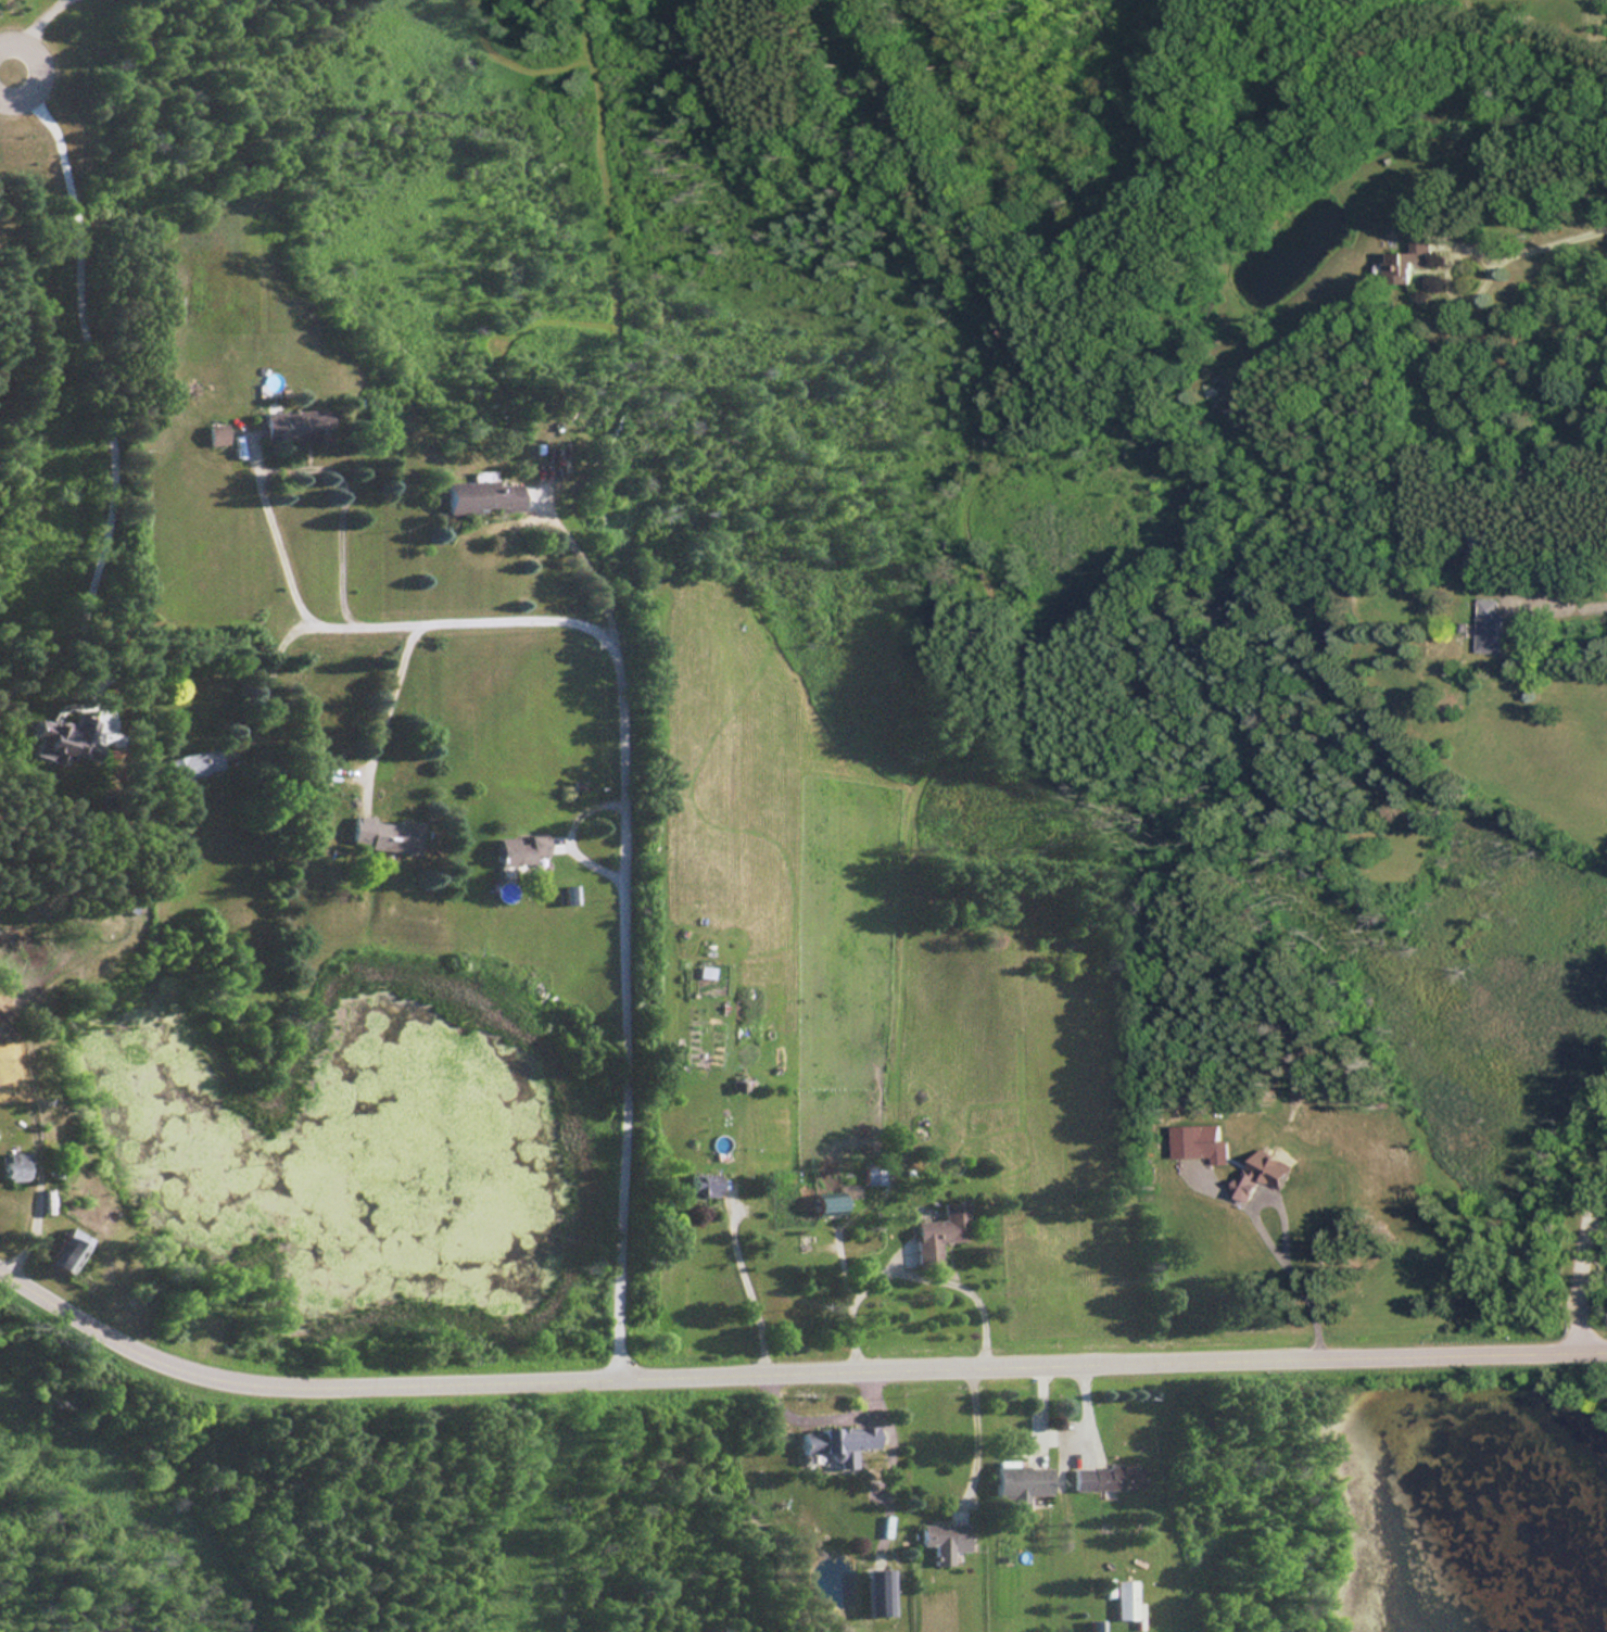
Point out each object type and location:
road: (30, 31)
road: (5, 69)
road: (5, 73)
road: (1531, 252)
building: (1406, 260)
road: (94, 388)
building: (292, 427)
road: (289, 467)
building: (478, 497)
building: (1478, 549)
road: (574, 557)
road: (1570, 599)
building: (1486, 627)
road: (261, 683)
road: (382, 710)
building: (190, 764)
building: (382, 836)
road: (633, 845)
building: (518, 850)
building: (567, 896)
road: (38, 1159)
building: (11, 1167)
building: (873, 1176)
building: (1258, 1179)
building: (700, 1185)
building: (825, 1204)
building: (938, 1235)
road: (1257, 1237)
road: (1585, 1258)
road: (940, 1280)
road: (743, 1288)
road: (847, 1300)
road: (790, 1367)
road: (969, 1433)
building: (834, 1443)
building: (1104, 1478)
building: (1020, 1484)
park: (1400, 1498)
park: (360, 1501)
building: (944, 1540)
building: (877, 1592)
building: (1123, 1601)

